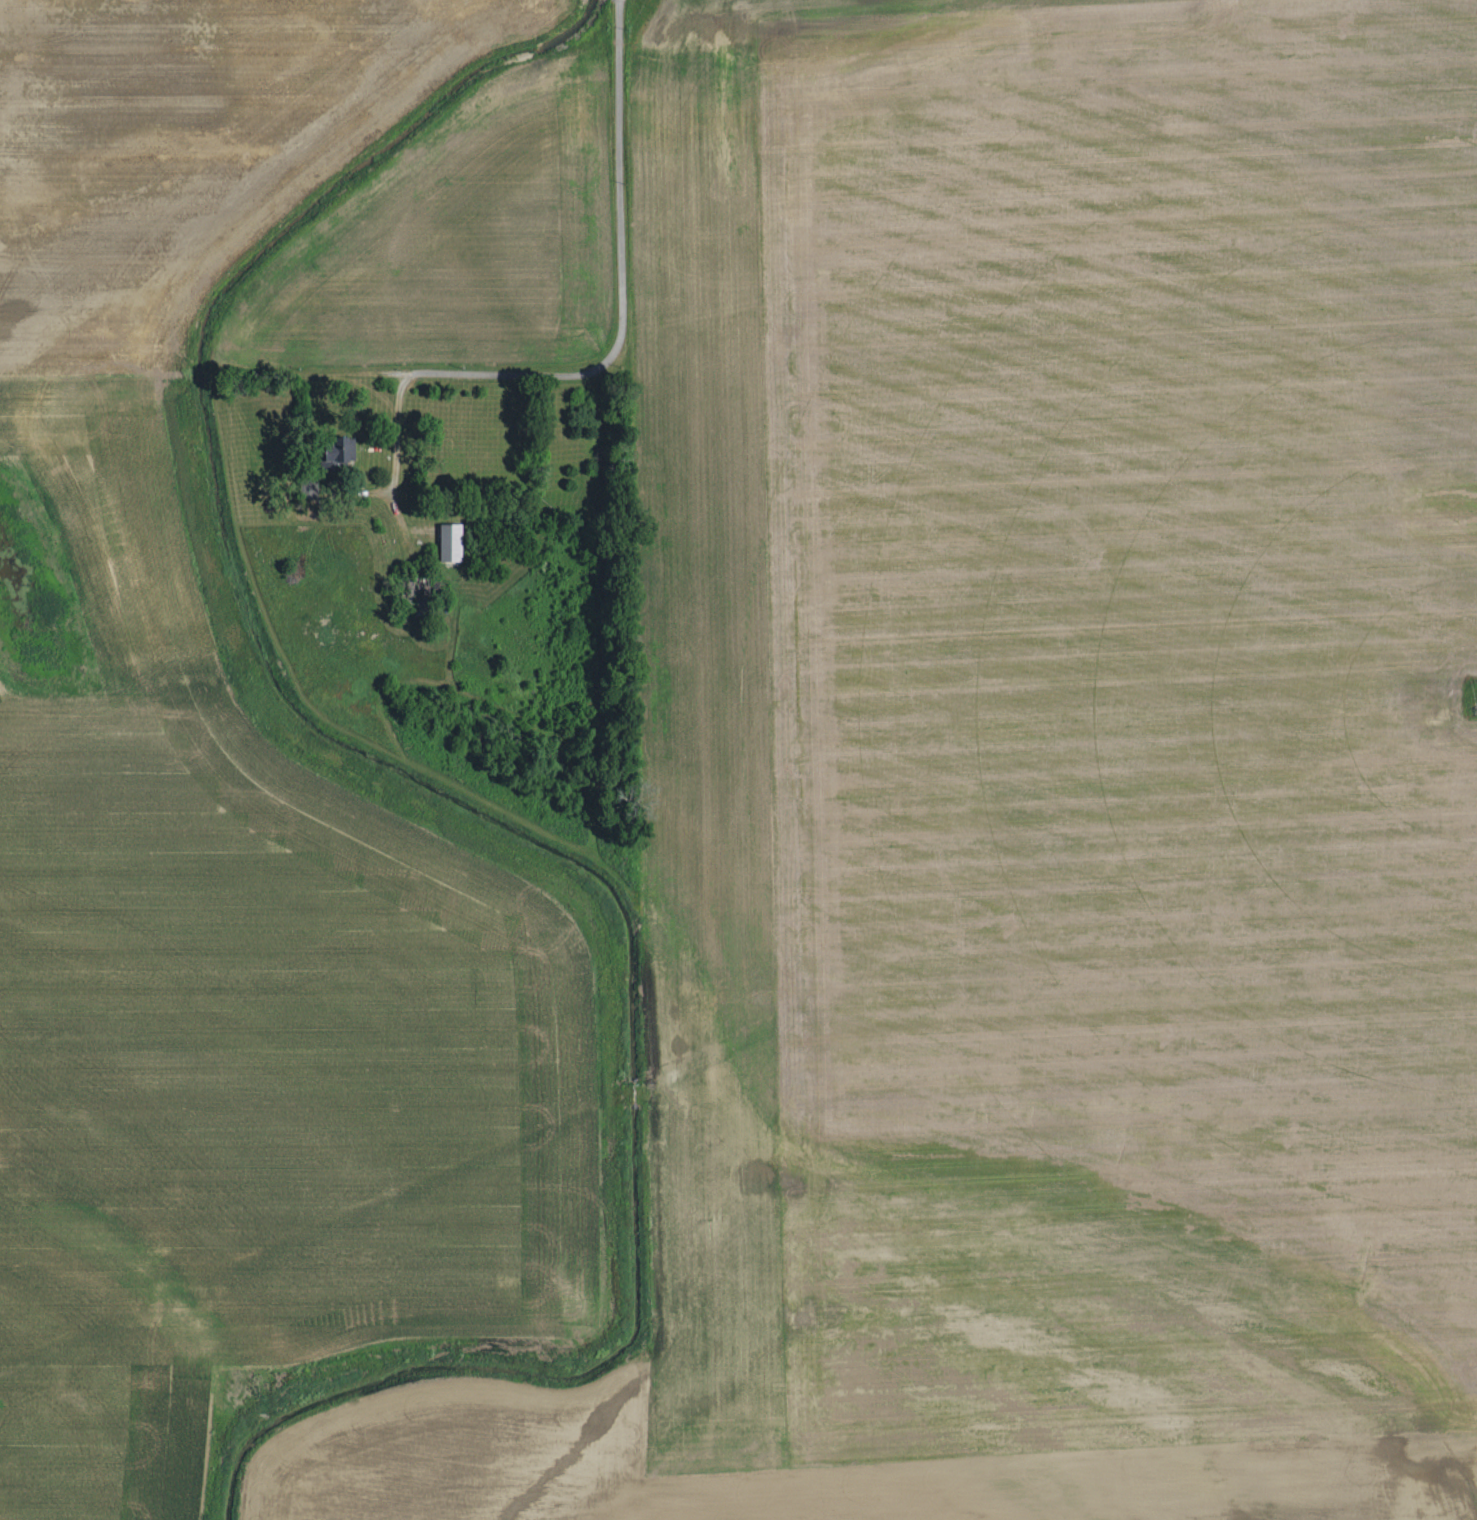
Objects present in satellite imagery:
road: (605, 365)
building: (338, 450)
building: (451, 543)

